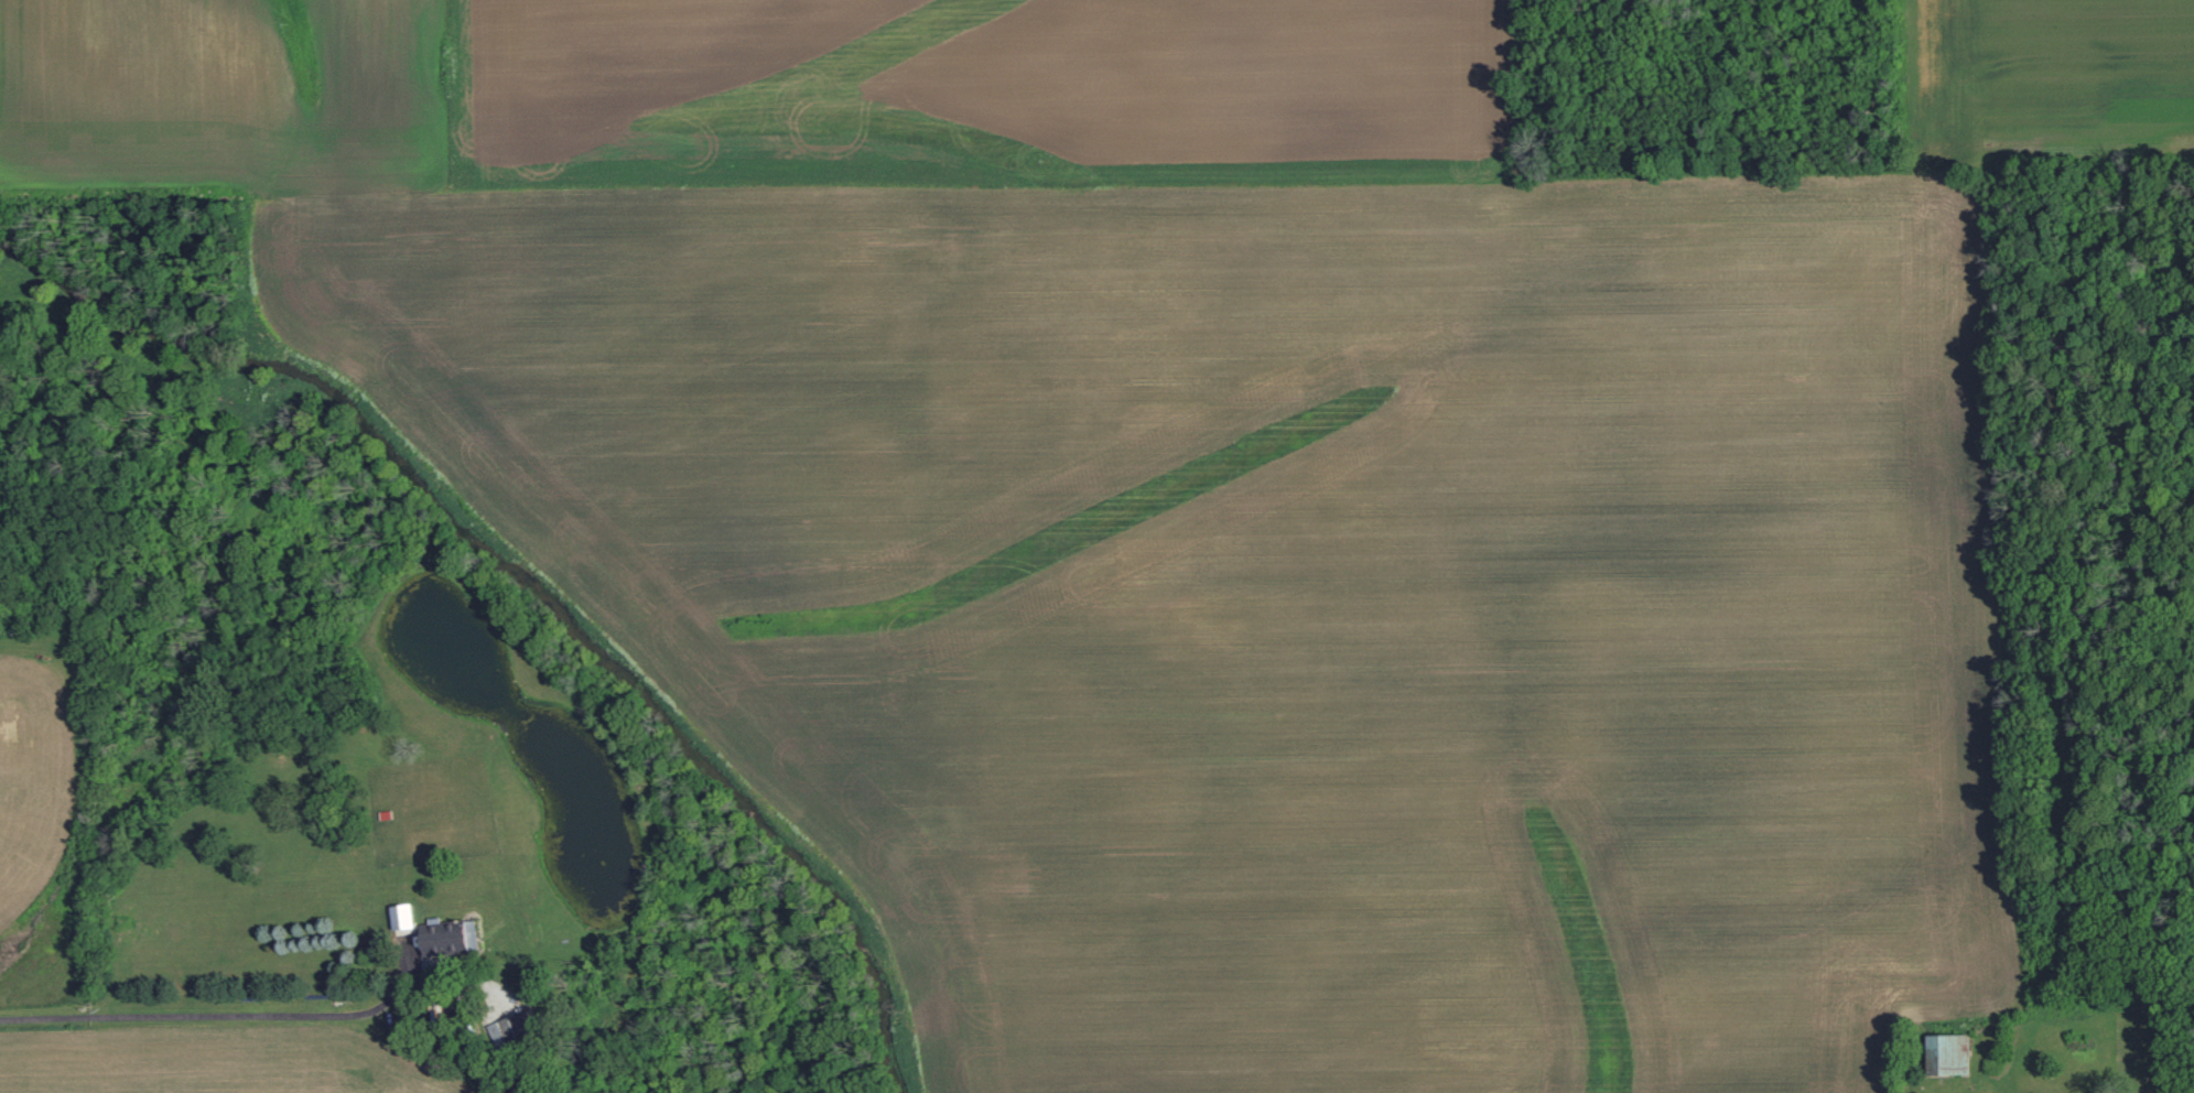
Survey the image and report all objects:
building: (401, 916)
building: (444, 940)
road: (223, 1016)
building: (1948, 1052)

